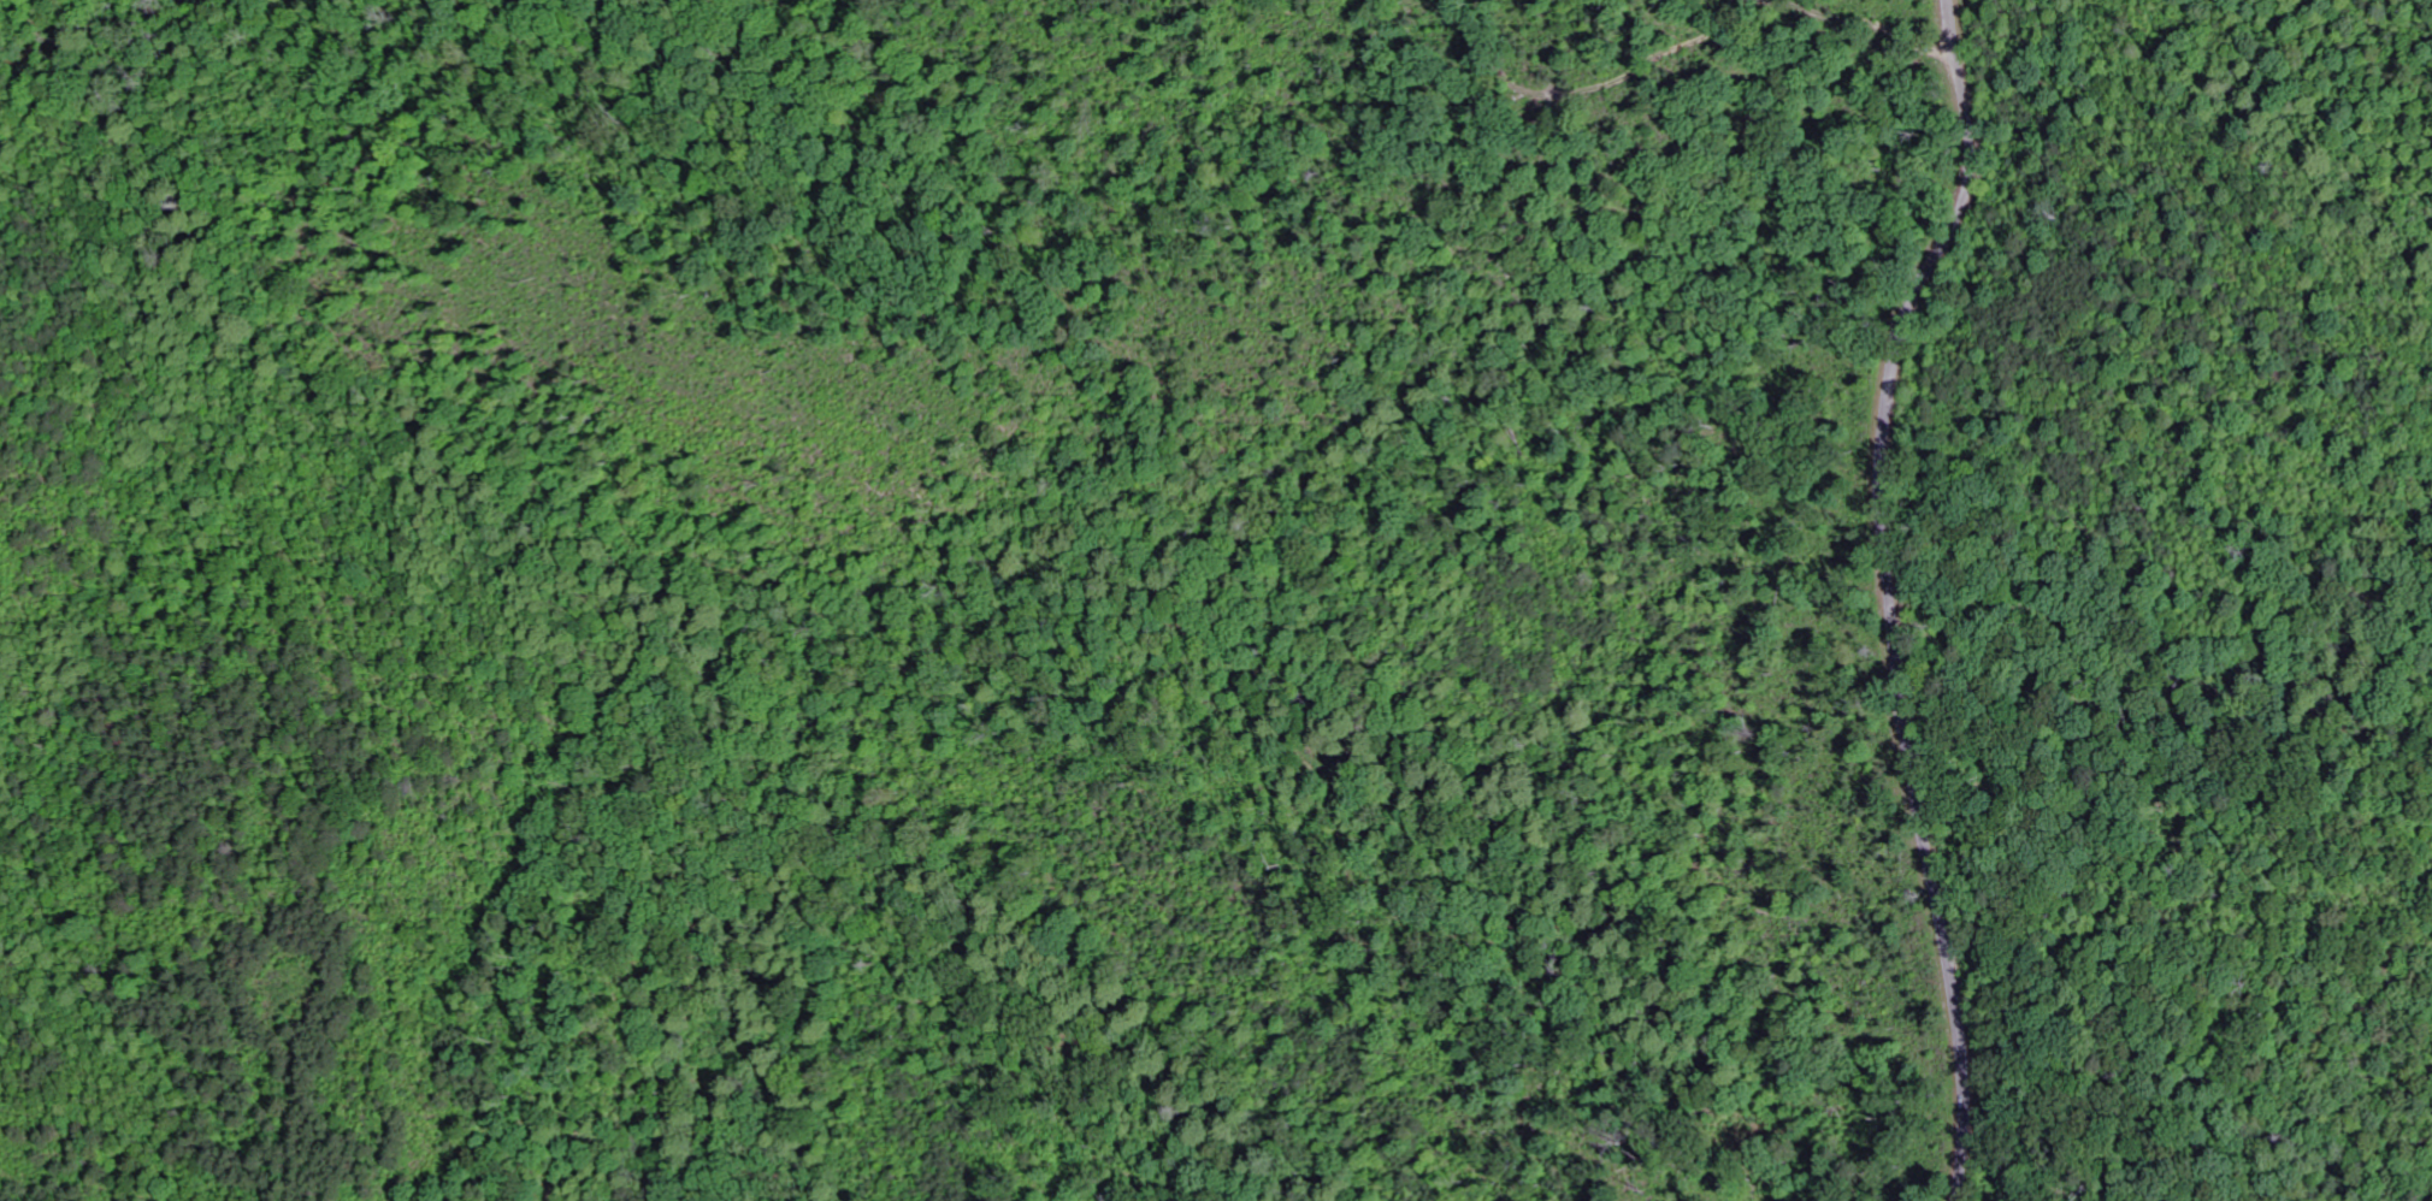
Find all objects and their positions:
road: (1890, 594)

